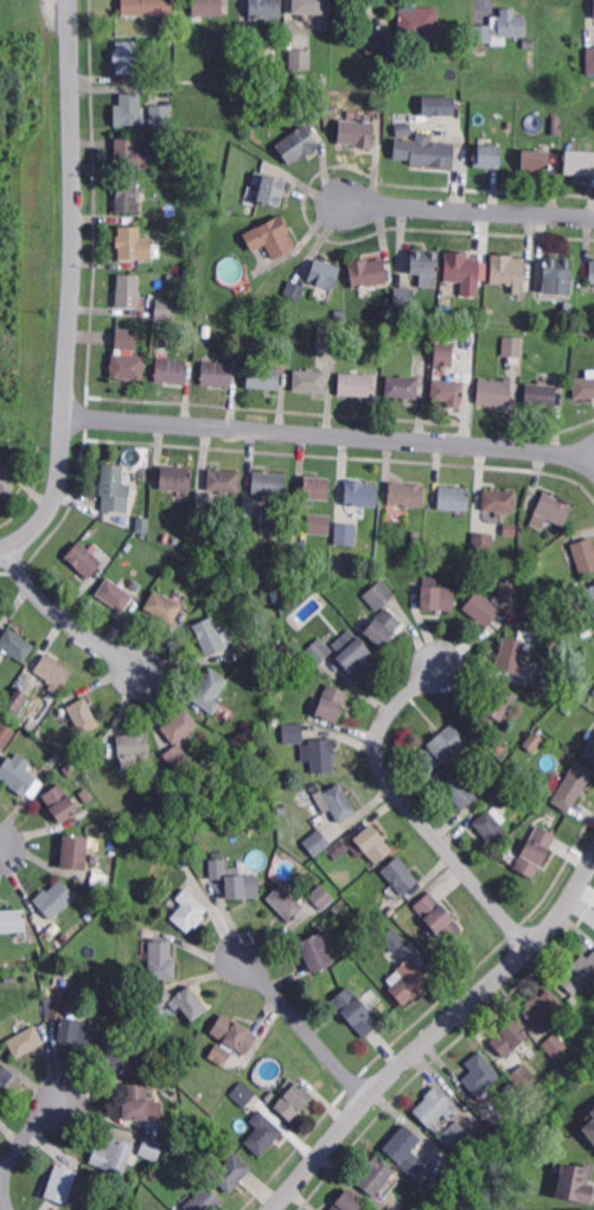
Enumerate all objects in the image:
building: (313, 6)
building: (159, 7)
building: (209, 7)
building: (266, 8)
building: (593, 8)
building: (419, 19)
building: (503, 26)
building: (177, 31)
building: (376, 42)
building: (530, 43)
building: (127, 56)
building: (534, 56)
building: (266, 57)
building: (300, 57)
building: (590, 59)
building: (167, 76)
building: (322, 77)
building: (439, 106)
building: (128, 107)
building: (330, 108)
building: (159, 114)
building: (177, 119)
building: (247, 119)
building: (403, 128)
building: (357, 132)
building: (524, 139)
building: (299, 144)
building: (426, 151)
building: (132, 152)
building: (488, 155)
building: (536, 159)
building: (580, 163)
building: (159, 164)
building: (273, 191)
building: (127, 193)
building: (228, 210)
road: (470, 210)
building: (185, 227)
building: (272, 236)
building: (133, 241)
building: (424, 263)
building: (461, 266)
building: (507, 269)
building: (368, 272)
building: (558, 272)
building: (325, 273)
building: (592, 273)
building: (170, 278)
building: (127, 287)
road: (72, 288)
building: (293, 288)
building: (404, 297)
building: (387, 302)
building: (490, 307)
building: (568, 307)
building: (166, 308)
building: (286, 324)
building: (190, 325)
building: (436, 335)
building: (124, 336)
building: (328, 337)
building: (253, 342)
building: (513, 345)
building: (445, 354)
building: (127, 364)
building: (172, 369)
building: (218, 372)
building: (264, 376)
building: (311, 380)
building: (356, 382)
building: (403, 384)
building: (583, 386)
building: (448, 389)
building: (494, 390)
building: (542, 394)
road: (331, 433)
building: (177, 477)
building: (225, 479)
building: (6, 480)
building: (269, 484)
building: (114, 486)
building: (315, 486)
building: (405, 492)
building: (362, 493)
building: (454, 498)
building: (500, 499)
building: (551, 510)
building: (274, 517)
building: (143, 524)
building: (320, 524)
building: (510, 529)
building: (346, 533)
building: (415, 535)
building: (178, 541)
building: (484, 542)
building: (428, 543)
building: (522, 552)
building: (585, 553)
building: (84, 558)
building: (537, 562)
building: (341, 563)
building: (510, 590)
building: (116, 592)
building: (551, 592)
building: (590, 593)
building: (379, 594)
building: (437, 594)
building: (164, 605)
building: (483, 607)
building: (526, 610)
building: (260, 613)
road: (64, 617)
building: (384, 625)
building: (211, 633)
building: (17, 643)
building: (319, 650)
building: (290, 654)
building: (511, 654)
building: (358, 655)
building: (53, 669)
building: (574, 679)
building: (547, 681)
building: (593, 688)
building: (210, 689)
building: (536, 689)
building: (18, 700)
building: (502, 700)
building: (332, 701)
building: (569, 703)
building: (82, 713)
building: (276, 719)
building: (180, 725)
building: (6, 733)
building: (293, 733)
building: (478, 738)
building: (79, 741)
building: (535, 741)
building: (134, 743)
building: (441, 745)
building: (590, 749)
building: (320, 752)
building: (177, 754)
building: (56, 756)
building: (70, 770)
building: (19, 772)
building: (151, 775)
building: (494, 784)
building: (573, 784)
building: (459, 789)
building: (87, 794)
building: (505, 796)
building: (60, 801)
building: (340, 801)
building: (281, 809)
road: (413, 809)
building: (491, 823)
building: (115, 827)
building: (314, 842)
building: (363, 846)
building: (536, 849)
building: (76, 851)
building: (218, 853)
building: (184, 859)
building: (401, 873)
building: (235, 878)
building: (322, 896)
building: (56, 897)
building: (286, 902)
building: (190, 909)
building: (439, 915)
building: (13, 918)
building: (378, 919)
building: (65, 936)
building: (394, 938)
building: (317, 951)
building: (162, 959)
building: (579, 973)
building: (9, 975)
building: (408, 979)
building: (181, 1000)
building: (543, 1007)
building: (356, 1010)
building: (70, 1021)
building: (135, 1024)
road: (306, 1028)
road: (433, 1033)
building: (510, 1036)
building: (231, 1038)
building: (26, 1039)
building: (555, 1044)
building: (117, 1053)
building: (146, 1065)
building: (480, 1072)
building: (5, 1074)
building: (523, 1077)
building: (244, 1093)
building: (272, 1095)
building: (293, 1096)
building: (136, 1100)
building: (435, 1104)
building: (593, 1114)
building: (165, 1131)
building: (589, 1131)
building: (263, 1132)
building: (455, 1135)
building: (149, 1146)
road: (18, 1147)
building: (114, 1153)
building: (408, 1154)
building: (234, 1171)
building: (373, 1173)
building: (62, 1182)
building: (574, 1185)
building: (205, 1199)
building: (347, 1201)
building: (95, 1208)
building: (89, 1209)
building: (590, 1209)

